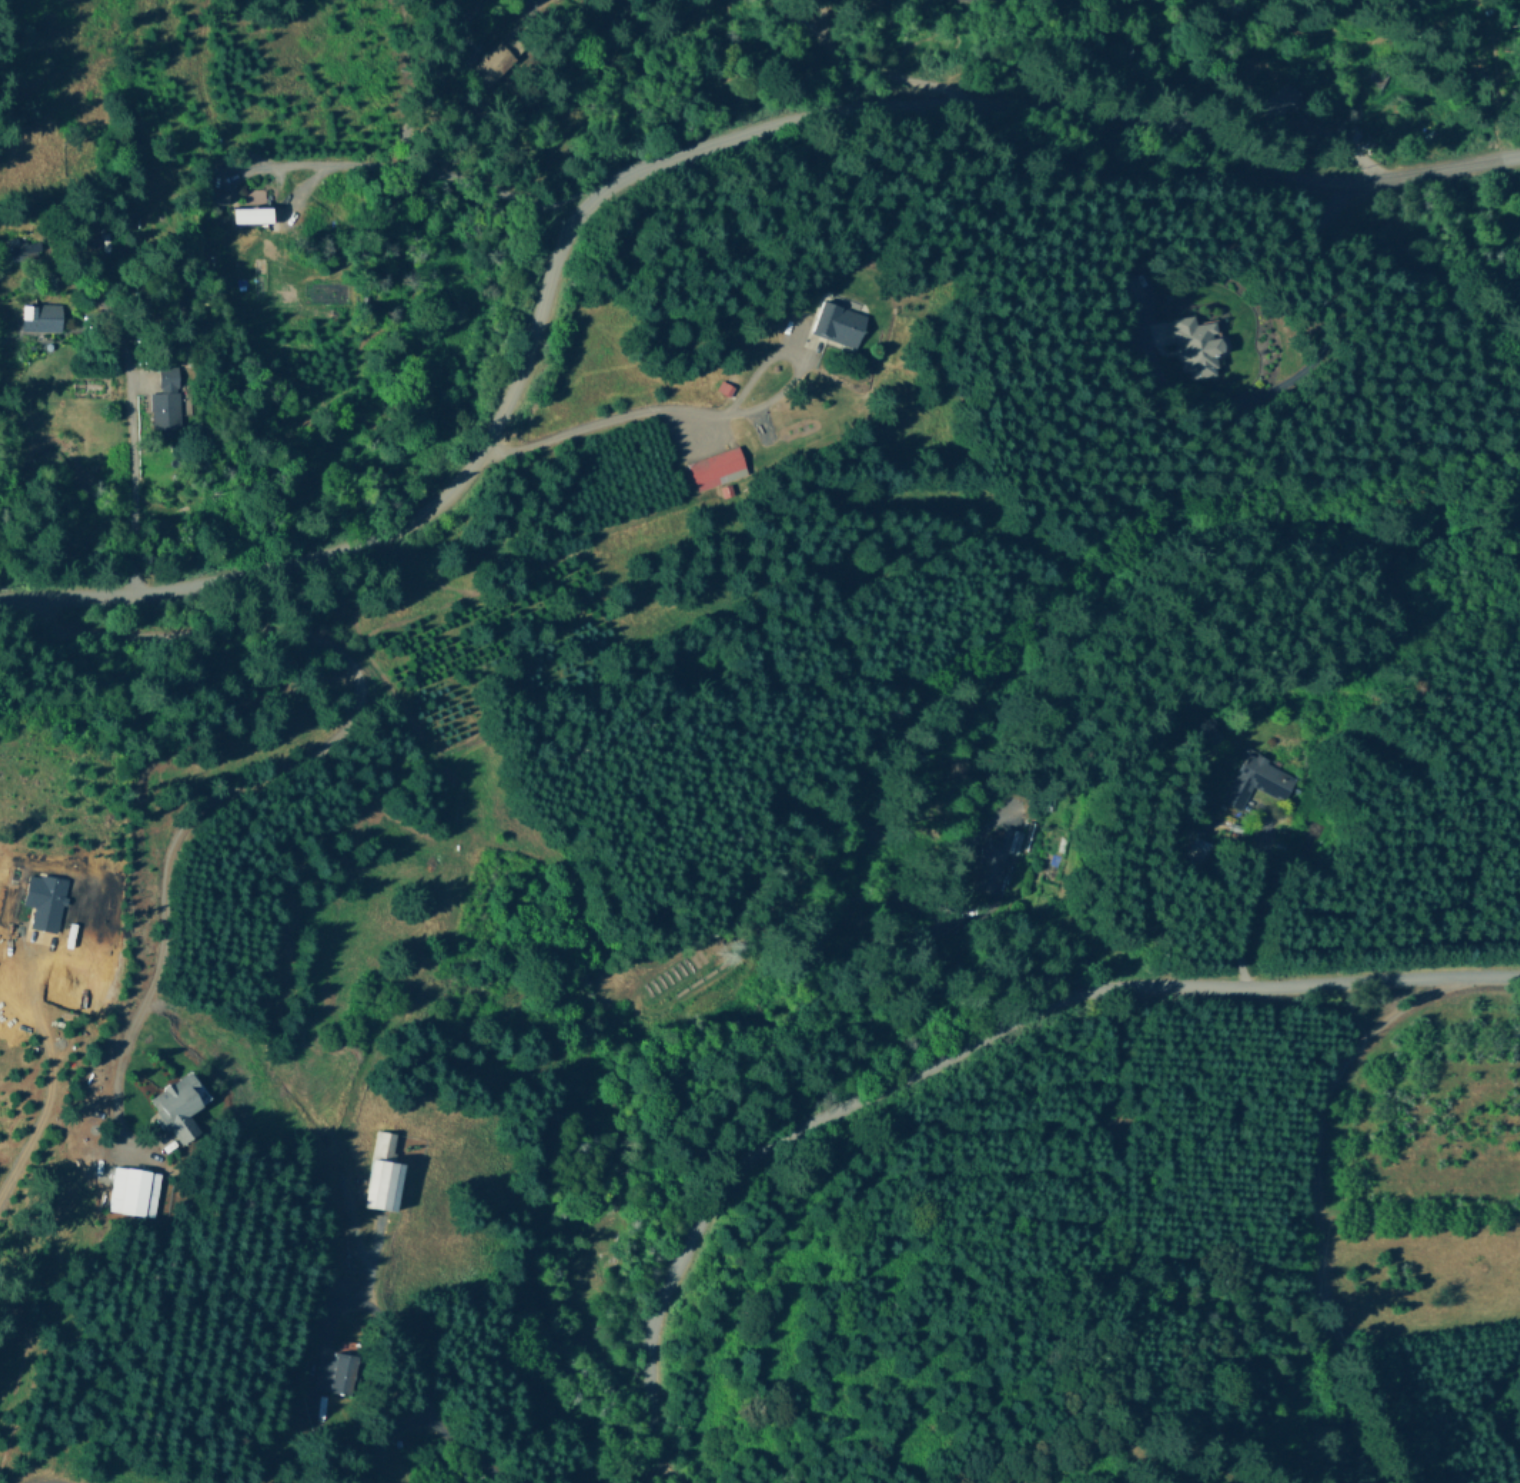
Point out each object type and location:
building: (492, 62)
road: (837, 65)
road: (665, 162)
road: (448, 171)
building: (250, 212)
building: (25, 248)
building: (41, 316)
building: (838, 322)
building: (1197, 344)
road: (1282, 359)
building: (725, 386)
building: (167, 397)
road: (642, 414)
building: (717, 466)
road: (131, 468)
road: (293, 759)
building: (1255, 778)
building: (1004, 853)
building: (44, 899)
road: (1247, 905)
road: (955, 1055)
road: (44, 1080)
building: (179, 1104)
building: (382, 1171)
building: (133, 1190)
road: (1321, 1210)
building: (341, 1372)
road: (418, 1387)
road: (669, 1473)

